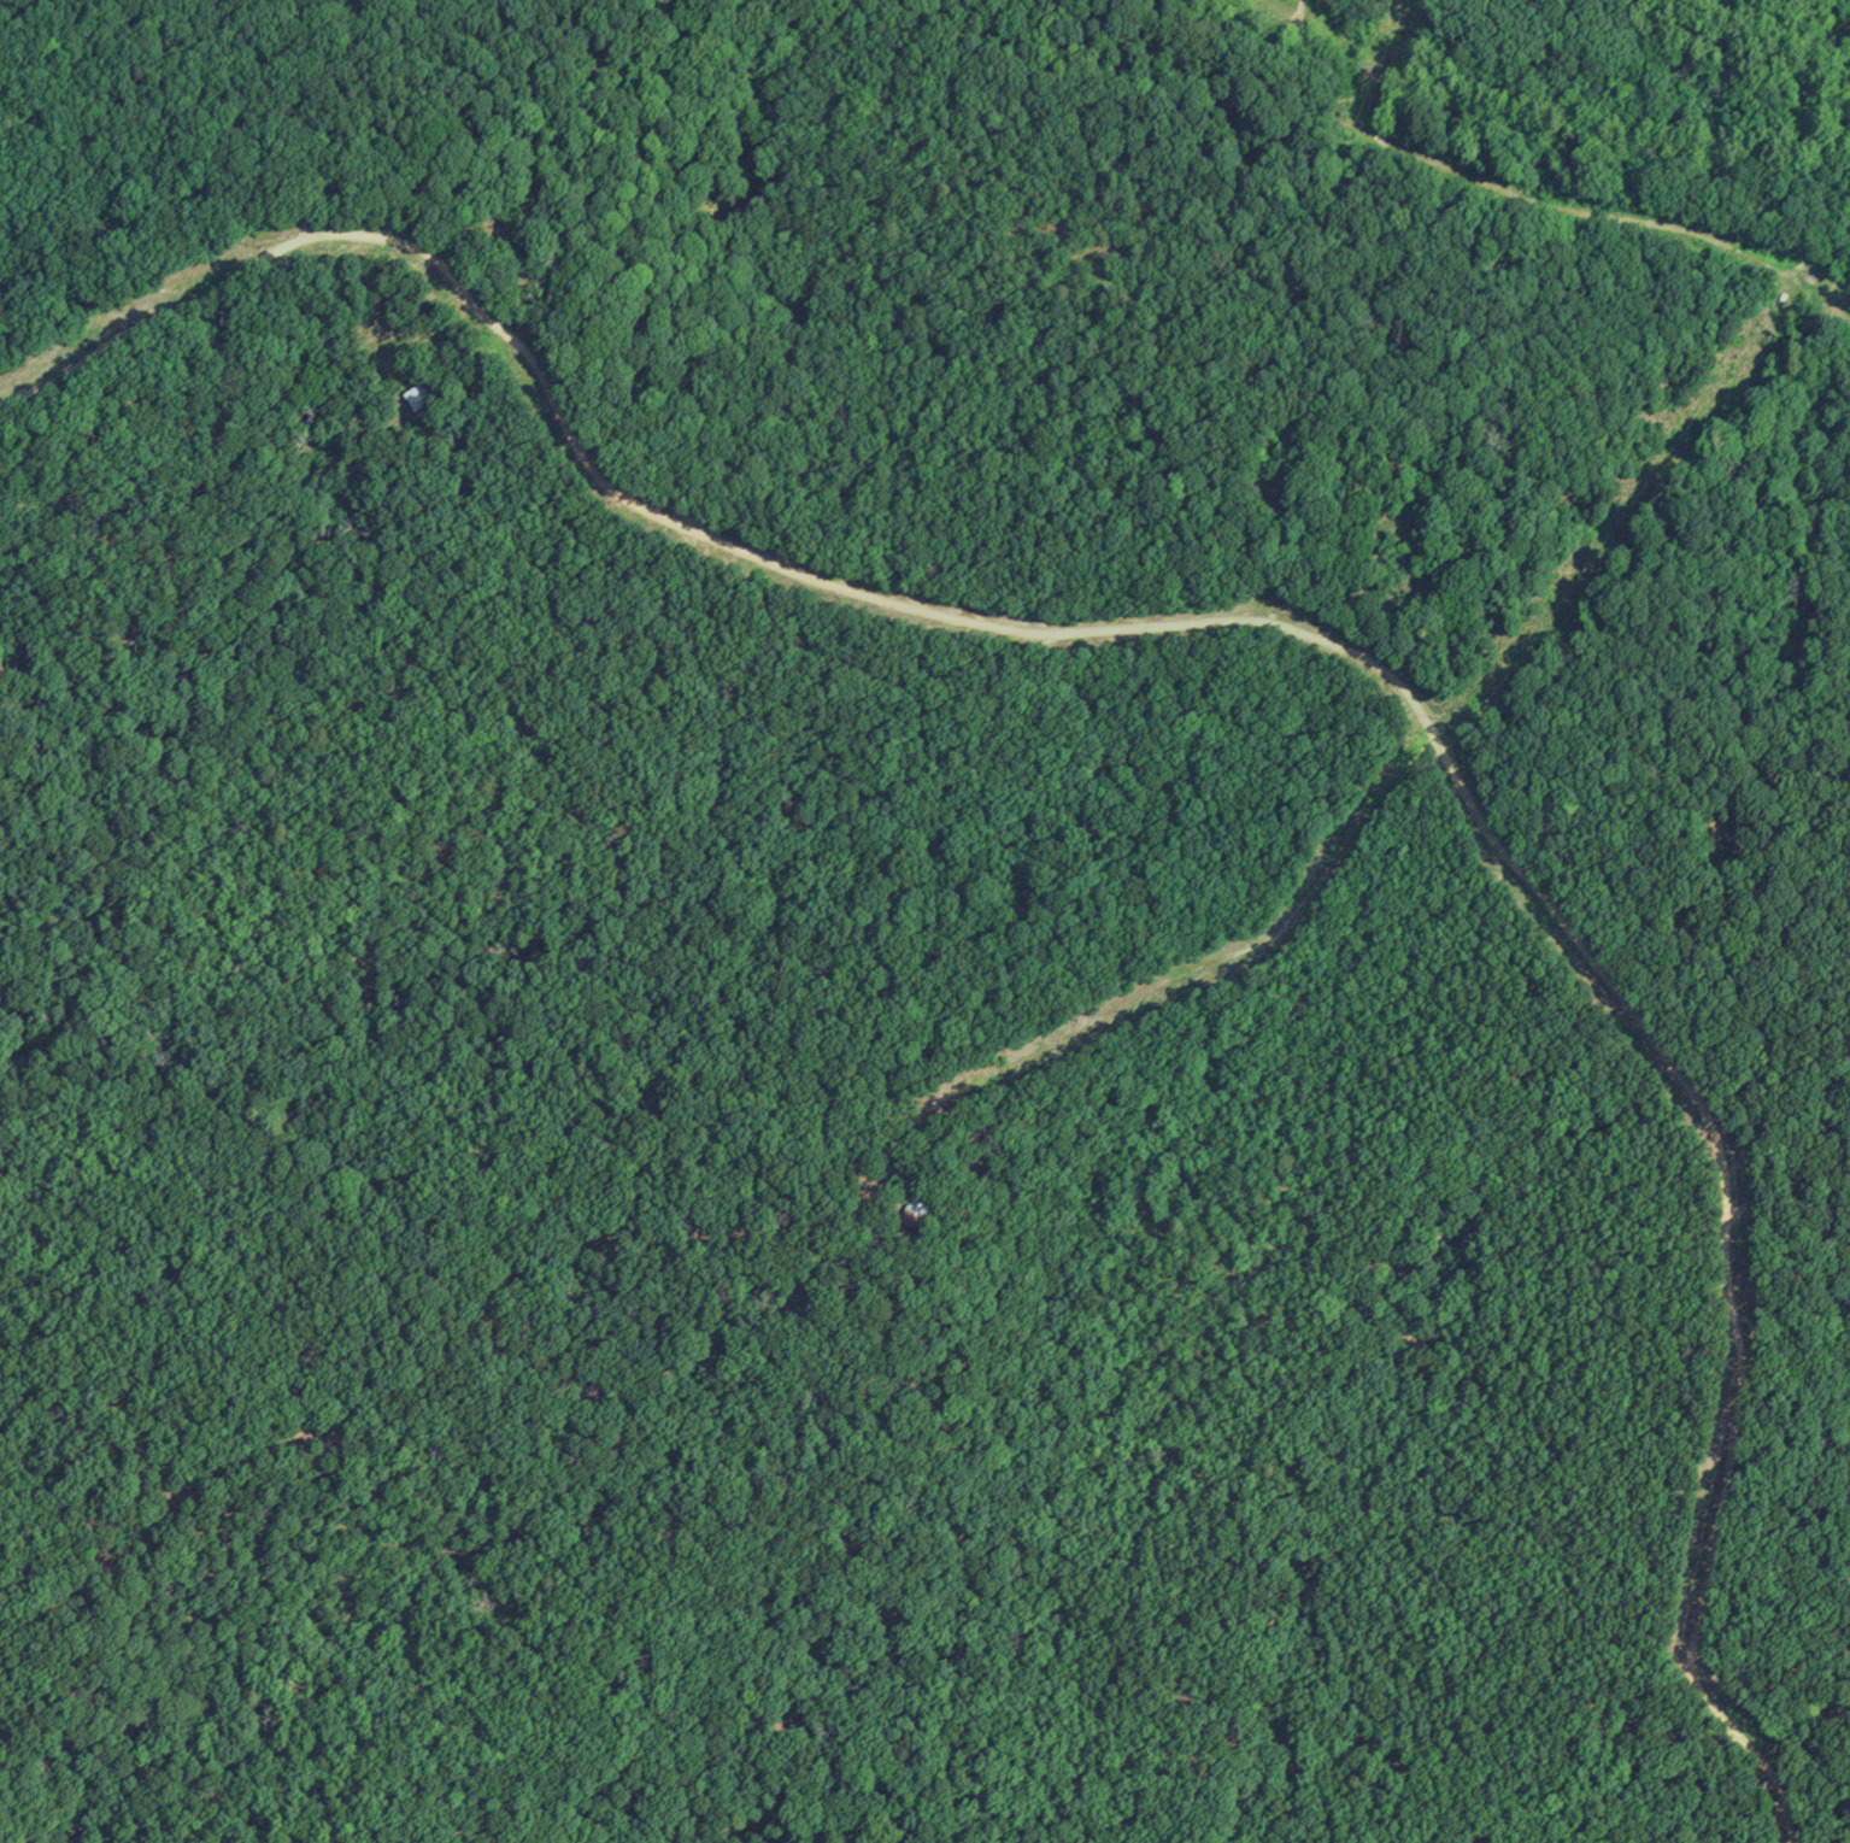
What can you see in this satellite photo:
road: (1731, 52)
road: (1364, 131)
road: (165, 168)
road: (155, 322)
road: (1414, 703)
road: (1177, 976)

